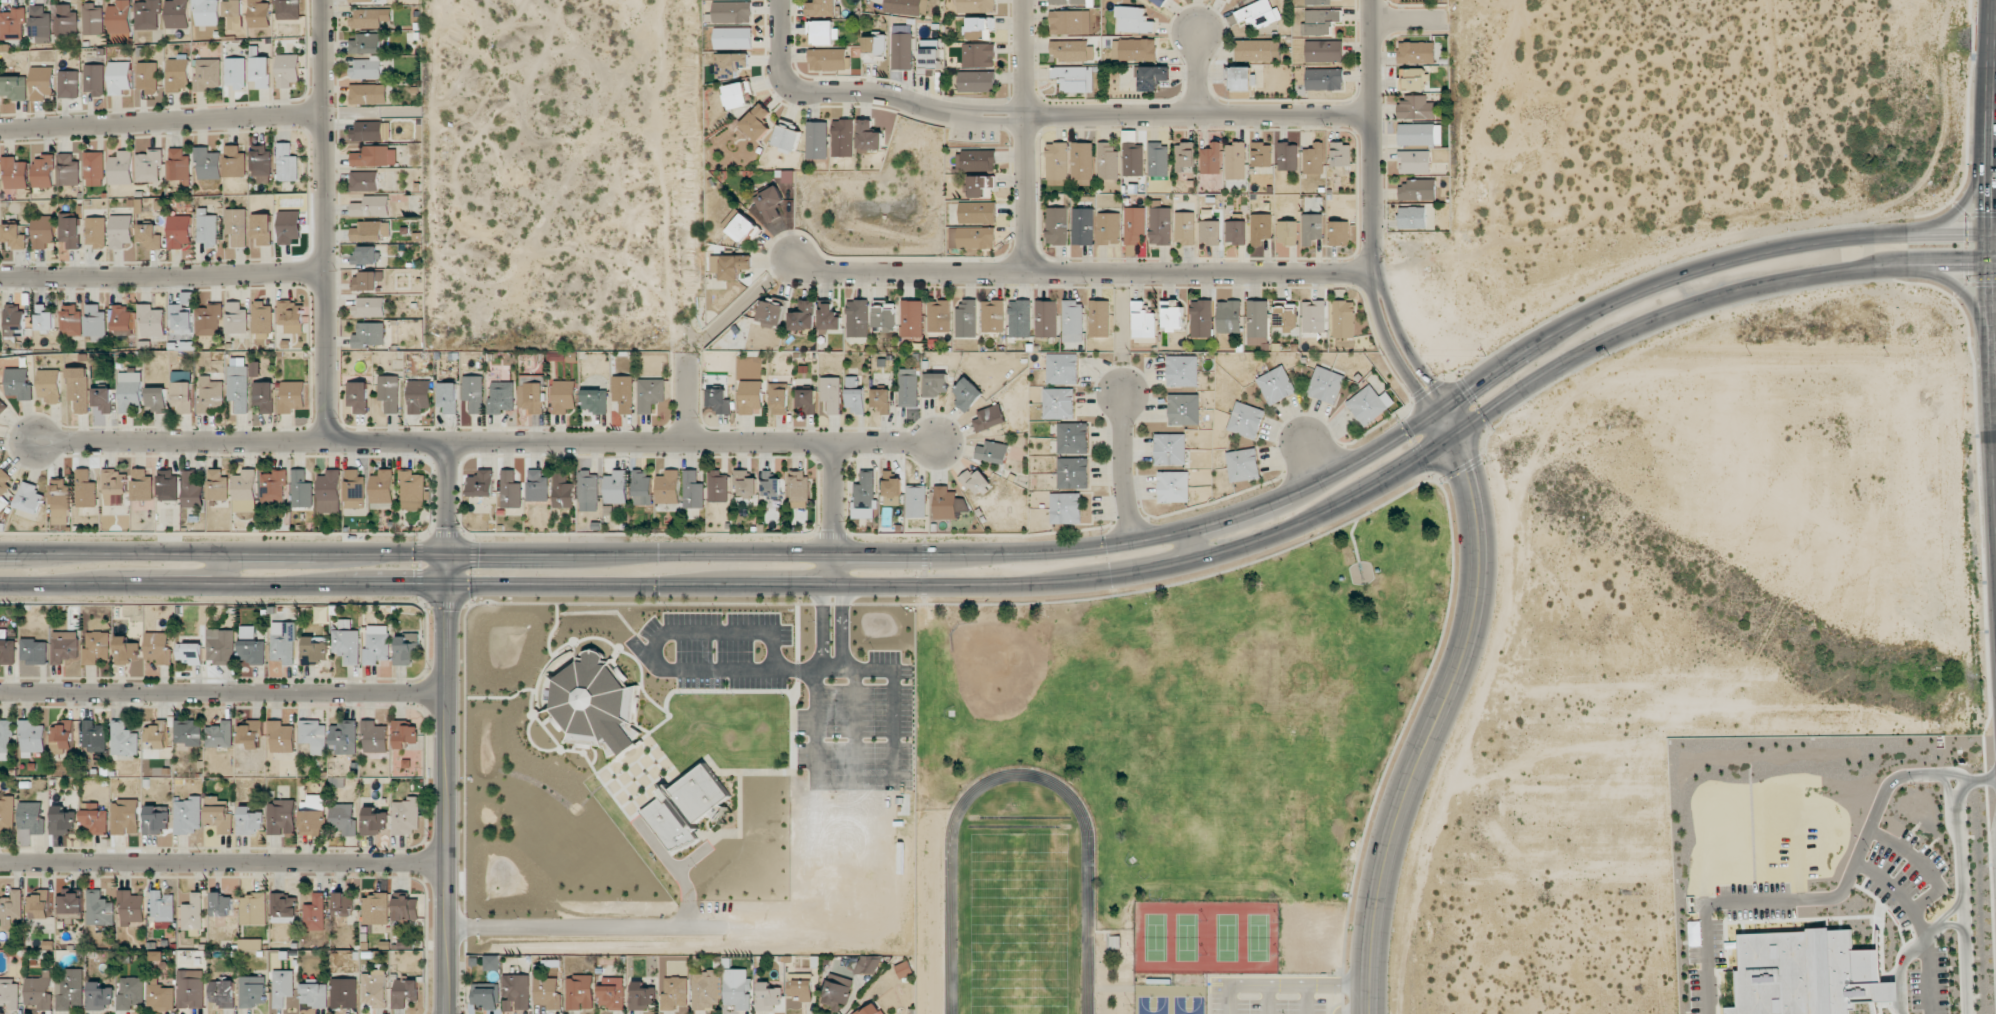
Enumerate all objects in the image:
building: (1227, 0)
building: (362, 1)
building: (1070, 2)
building: (1159, 2)
building: (1318, 2)
building: (976, 5)
building: (905, 7)
building: (822, 8)
building: (287, 9)
building: (206, 12)
building: (732, 12)
building: (147, 14)
building: (177, 14)
building: (233, 14)
building: (259, 14)
building: (1259, 14)
building: (119, 17)
building: (369, 18)
building: (92, 19)
building: (1133, 19)
building: (67, 21)
building: (1319, 21)
building: (1070, 22)
building: (40, 23)
building: (12, 24)
road: (1410, 25)
building: (979, 28)
building: (824, 34)
building: (734, 37)
building: (366, 43)
building: (874, 48)
building: (1134, 49)
building: (1257, 50)
building: (902, 51)
building: (1072, 51)
building: (1323, 51)
building: (1416, 52)
building: (978, 55)
building: (828, 59)
building: (928, 61)
building: (732, 64)
building: (366, 68)
building: (260, 69)
building: (287, 70)
building: (178, 73)
building: (207, 73)
building: (235, 73)
building: (119, 77)
building: (148, 77)
building: (1152, 77)
road: (1200, 77)
building: (1074, 78)
building: (1240, 78)
building: (94, 79)
building: (1324, 79)
building: (1411, 79)
building: (977, 81)
building: (42, 82)
building: (69, 84)
building: (14, 87)
building: (368, 94)
building: (737, 95)
building: (1415, 108)
road: (170, 119)
road: (1030, 119)
building: (757, 122)
road: (1994, 127)
building: (1419, 134)
building: (869, 136)
building: (787, 138)
building: (843, 138)
road: (1028, 138)
building: (817, 140)
building: (1261, 154)
building: (1340, 154)
building: (374, 156)
building: (1288, 156)
building: (1184, 157)
building: (1133, 159)
building: (1157, 159)
building: (1211, 159)
building: (1313, 159)
building: (261, 160)
building: (976, 160)
building: (1082, 160)
building: (1235, 160)
building: (234, 161)
building: (1107, 161)
building: (1414, 161)
building: (287, 163)
building: (1056, 163)
building: (207, 164)
road: (1991, 164)
building: (179, 165)
building: (148, 166)
building: (94, 168)
building: (121, 168)
building: (68, 170)
building: (43, 171)
building: (15, 173)
road: (687, 176)
building: (364, 181)
building: (980, 185)
building: (1418, 190)
building: (770, 203)
building: (371, 206)
traffic signals: (1990, 206)
road: (1956, 207)
building: (978, 212)
road: (1373, 215)
building: (1412, 217)
road: (340, 219)
building: (1134, 225)
building: (237, 226)
building: (1056, 226)
building: (1082, 226)
building: (289, 227)
building: (207, 228)
building: (261, 228)
building: (743, 228)
building: (1108, 228)
building: (1184, 228)
building: (1260, 228)
building: (1311, 228)
building: (70, 230)
building: (43, 231)
building: (121, 231)
building: (179, 231)
building: (369, 231)
building: (95, 232)
building: (1209, 232)
building: (1236, 232)
building: (1287, 232)
building: (1339, 233)
building: (14, 237)
building: (149, 237)
building: (972, 237)
building: (365, 255)
building: (731, 266)
road: (1952, 269)
traffic signals: (1956, 269)
road: (170, 272)
road: (1081, 276)
building: (367, 281)
road: (1958, 286)
building: (369, 307)
building: (772, 314)
building: (1172, 315)
building: (803, 316)
building: (884, 316)
building: (938, 316)
building: (992, 316)
building: (1229, 316)
building: (1285, 316)
building: (1313, 316)
building: (45, 318)
building: (236, 318)
building: (262, 318)
building: (830, 318)
building: (857, 318)
building: (911, 318)
building: (1019, 318)
building: (1045, 318)
building: (1099, 318)
building: (1201, 318)
building: (1257, 318)
building: (123, 319)
building: (966, 319)
building: (1343, 319)
building: (14, 320)
building: (72, 320)
building: (151, 320)
building: (179, 320)
building: (209, 320)
building: (1072, 321)
building: (1143, 321)
building: (96, 323)
building: (369, 334)
road: (1994, 349)
building: (1061, 368)
building: (255, 369)
building: (1182, 371)
building: (19, 383)
road: (1993, 383)
building: (934, 384)
building: (1276, 385)
building: (1325, 385)
building: (51, 386)
traffic signals: (1417, 386)
building: (238, 388)
building: (908, 388)
building: (79, 389)
traffic signals: (1474, 390)
building: (130, 391)
building: (389, 393)
building: (474, 393)
building: (531, 393)
building: (624, 393)
building: (650, 394)
building: (831, 394)
building: (966, 394)
building: (210, 395)
building: (855, 395)
building: (182, 396)
building: (264, 396)
building: (358, 396)
building: (419, 396)
building: (502, 396)
building: (564, 396)
building: (291, 397)
building: (447, 397)
road: (689, 397)
building: (780, 397)
building: (103, 399)
building: (157, 399)
building: (595, 400)
building: (719, 400)
building: (807, 400)
building: (881, 400)
building: (1058, 403)
building: (1369, 404)
building: (2, 406)
building: (1183, 409)
building: (989, 418)
building: (1246, 420)
building: (1072, 438)
road: (485, 439)
building: (1169, 449)
building: (992, 452)
road: (1317, 462)
traffic signals: (1417, 464)
building: (1243, 465)
road: (1122, 469)
building: (1073, 473)
traffic signals: (1469, 476)
building: (975, 481)
building: (114, 482)
building: (481, 483)
building: (746, 483)
building: (142, 485)
building: (167, 485)
building: (218, 485)
building: (771, 485)
building: (273, 486)
building: (382, 486)
building: (412, 486)
building: (537, 486)
building: (718, 486)
building: (1173, 486)
building: (616, 487)
building: (668, 487)
building: (891, 487)
building: (4, 488)
building: (642, 488)
building: (85, 489)
building: (193, 489)
building: (301, 489)
building: (354, 489)
building: (799, 489)
building: (510, 490)
building: (562, 490)
building: (588, 490)
building: (692, 490)
building: (245, 491)
building: (329, 492)
road: (449, 496)
building: (865, 496)
building: (29, 498)
building: (60, 501)
building: (916, 501)
building: (945, 503)
building: (1065, 508)
road: (1253, 511)
road: (835, 516)
road: (1190, 545)
road: (224, 552)
traffic signals: (449, 554)
road: (226, 568)
traffic signals: (450, 587)
road: (989, 588)
building: (322, 614)
building: (284, 642)
building: (346, 642)
building: (377, 644)
building: (220, 646)
building: (251, 646)
building: (65, 647)
building: (97, 647)
building: (157, 647)
building: (407, 648)
building: (127, 650)
building: (315, 650)
building: (7, 651)
building: (34, 651)
building: (189, 652)
road: (223, 692)
park: (1221, 694)
building: (595, 703)
road: (1440, 712)
building: (632, 729)
building: (187, 732)
building: (158, 733)
building: (251, 734)
building: (219, 735)
building: (314, 735)
building: (94, 736)
building: (281, 736)
building: (62, 737)
building: (375, 737)
building: (5, 738)
building: (32, 738)
building: (343, 738)
building: (124, 739)
road: (1979, 779)
road: (446, 783)
road: (1945, 784)
building: (685, 806)
building: (7, 815)
building: (188, 815)
building: (218, 815)
building: (312, 815)
building: (406, 816)
building: (31, 817)
building: (125, 817)
building: (281, 817)
building: (94, 819)
building: (156, 819)
building: (343, 819)
building: (62, 820)
building: (249, 820)
building: (373, 821)
road: (222, 862)
road: (677, 869)
road: (1868, 873)
road: (1961, 901)
building: (221, 904)
building: (343, 904)
building: (40, 905)
building: (70, 905)
building: (162, 906)
building: (131, 907)
building: (406, 907)
building: (283, 908)
building: (12, 909)
building: (99, 909)
building: (253, 909)
building: (375, 909)
building: (192, 913)
building: (315, 913)
road: (1944, 918)
road: (581, 927)
road: (1934, 930)
building: (249, 944)
building: (493, 962)
building: (868, 964)
building: (904, 969)
building: (1806, 973)
building: (800, 986)
building: (283, 987)
building: (69, 988)
building: (376, 988)
building: (191, 989)
building: (737, 989)
building: (705, 990)
building: (38, 991)
building: (253, 991)
building: (406, 991)
building: (836, 991)
building: (131, 992)
building: (516, 992)
building: (547, 992)
building: (580, 992)
building: (675, 992)
building: (10, 993)
building: (223, 993)
building: (344, 993)
building: (612, 993)
building: (314, 994)
building: (485, 995)
building: (99, 996)
building: (767, 996)
building: (161, 997)
building: (641, 997)
building: (871, 1009)

